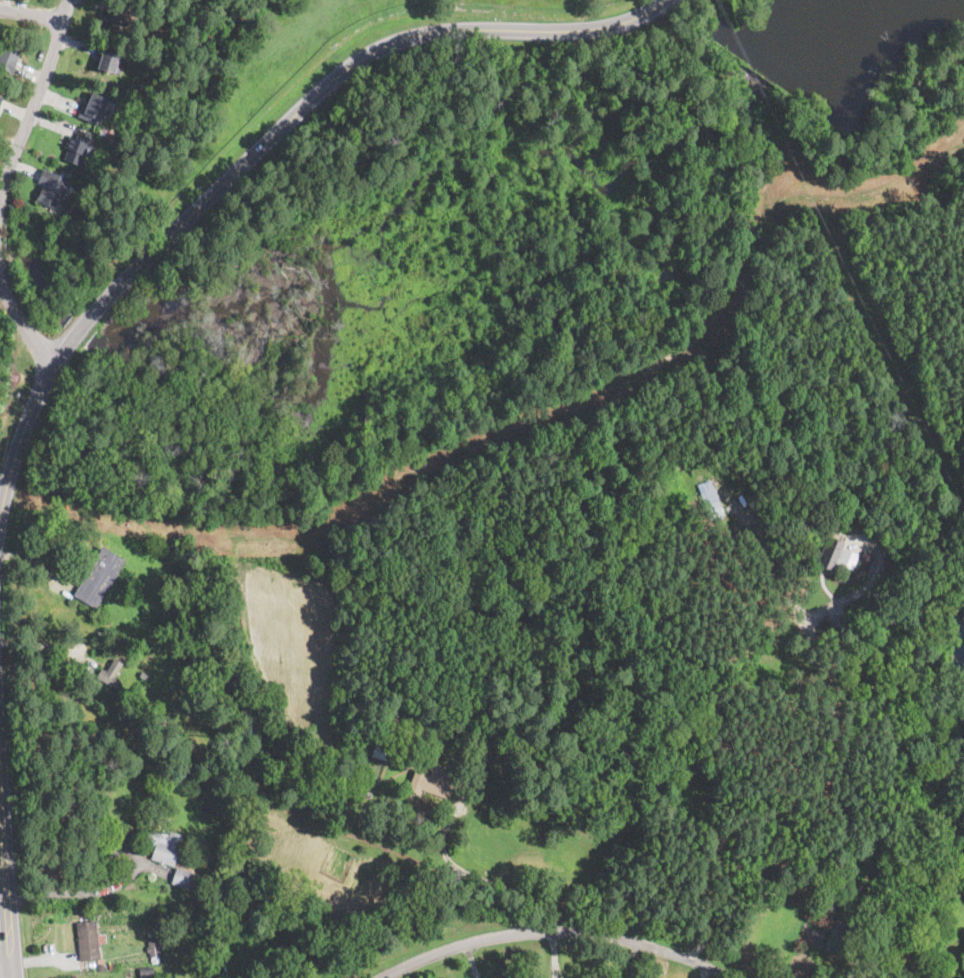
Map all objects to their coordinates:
road: (31, 12)
building: (120, 17)
building: (8, 57)
building: (109, 60)
building: (0, 98)
road: (34, 99)
building: (95, 107)
building: (77, 148)
road: (250, 153)
building: (51, 189)
road: (21, 322)
park: (1, 432)
building: (750, 496)
building: (711, 502)
building: (830, 553)
building: (847, 557)
building: (98, 577)
road: (46, 644)
building: (110, 673)
building: (905, 674)
building: (142, 675)
building: (927, 692)
building: (934, 714)
building: (391, 718)
building: (158, 724)
building: (381, 747)
building: (478, 757)
road: (822, 778)
building: (434, 780)
building: (366, 781)
road: (5, 827)
building: (163, 845)
building: (882, 875)
building: (182, 877)
road: (487, 880)
building: (223, 891)
road: (81, 893)
road: (564, 930)
building: (152, 934)
road: (11, 937)
building: (842, 939)
building: (88, 940)
building: (155, 950)
building: (891, 957)
building: (100, 966)
building: (112, 966)
building: (145, 972)
road: (6, 975)
building: (129, 975)
building: (209, 977)

